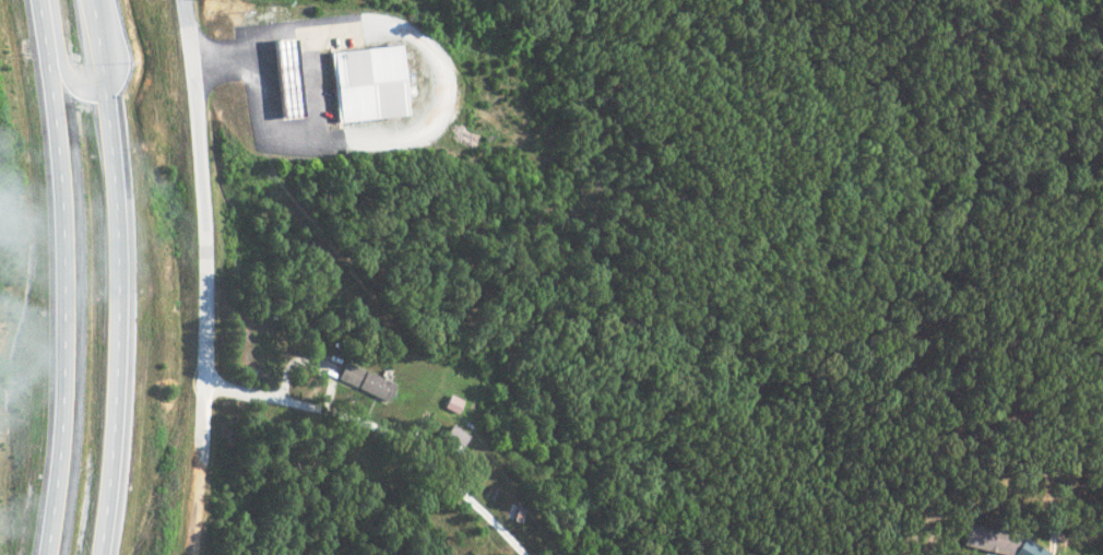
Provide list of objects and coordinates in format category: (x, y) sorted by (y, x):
road: (44, 26)
road: (98, 36)
road: (60, 63)
road: (88, 75)
building: (285, 79)
building: (366, 83)
road: (199, 121)
road: (63, 304)
road: (107, 314)
road: (206, 316)
building: (361, 381)
building: (450, 403)
road: (202, 416)
road: (386, 429)
building: (450, 439)

